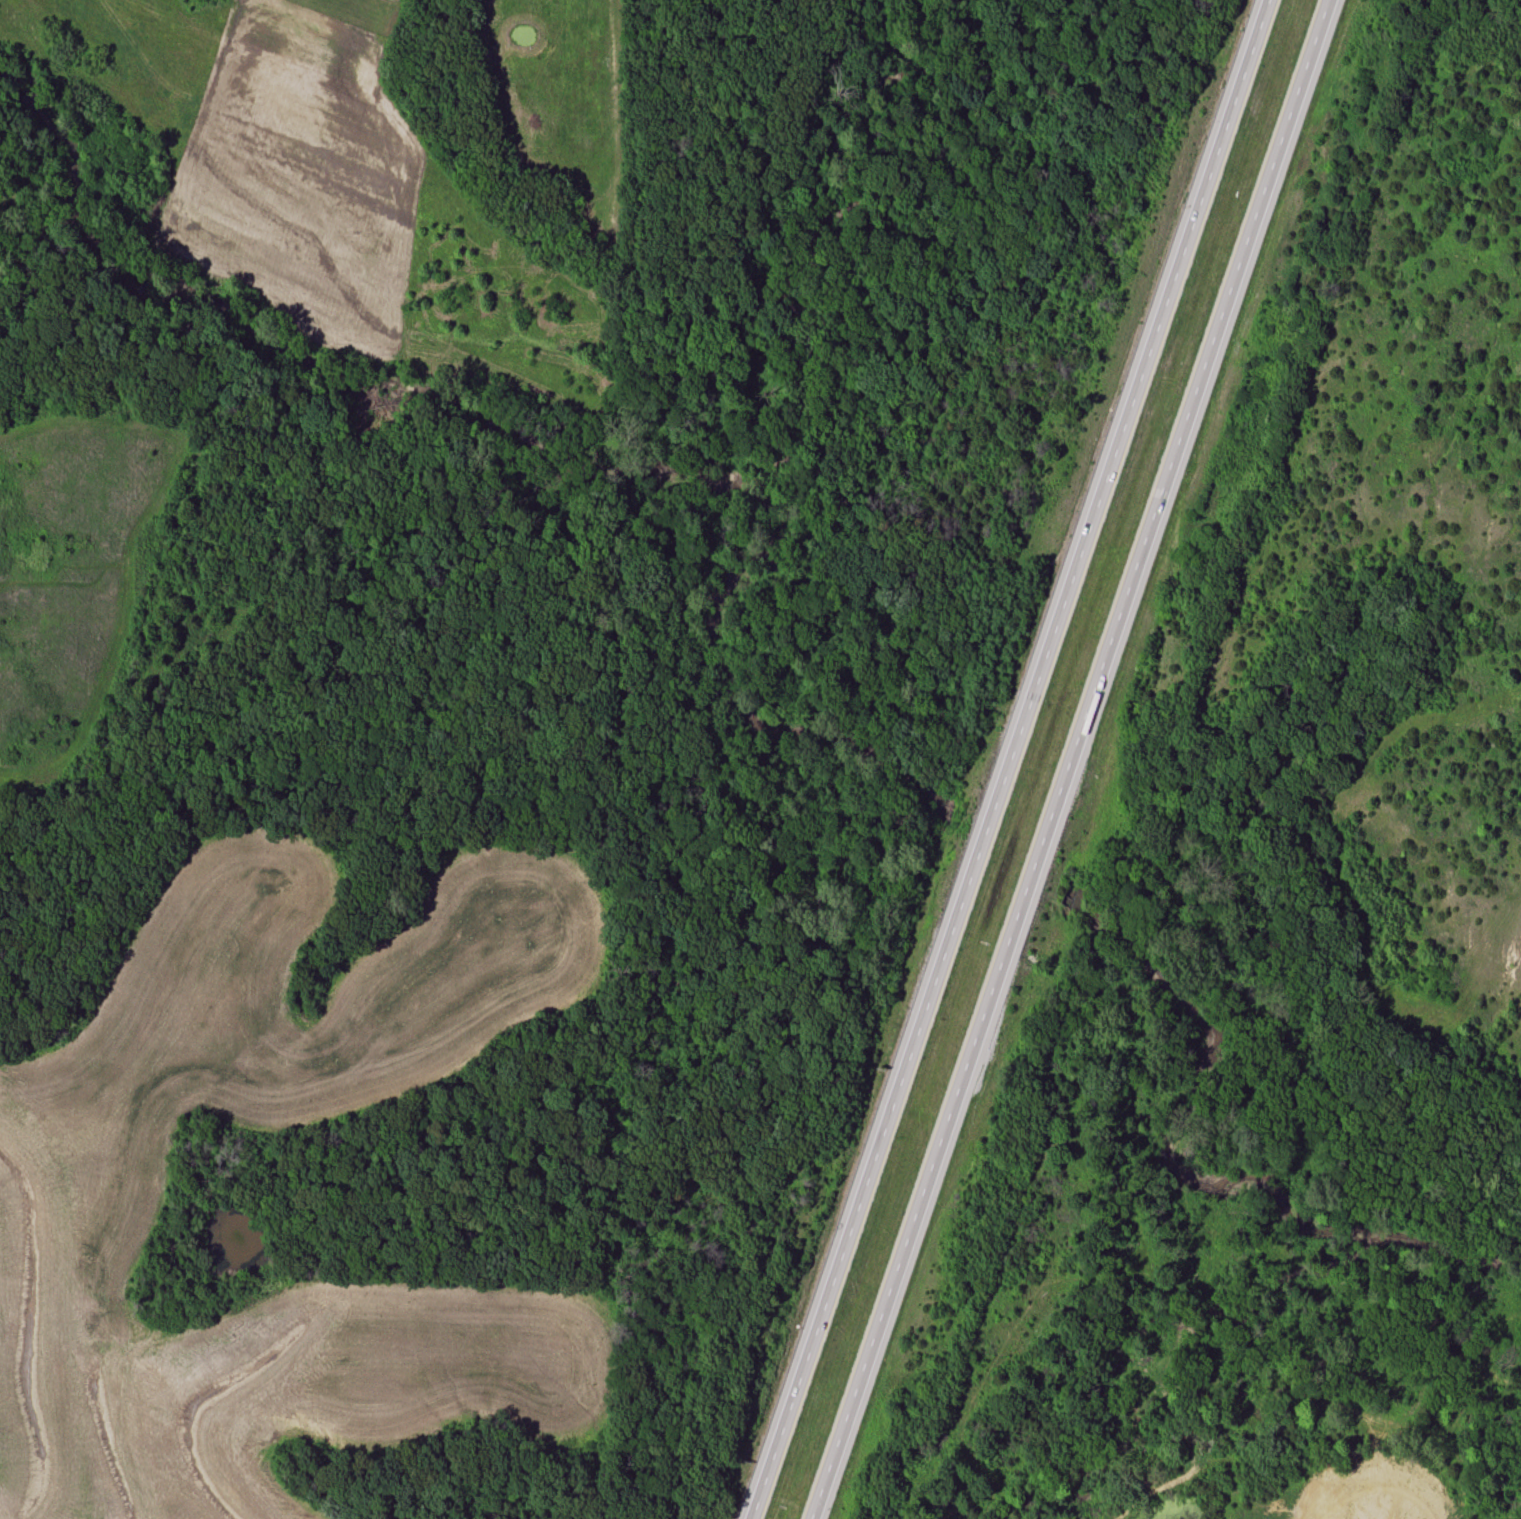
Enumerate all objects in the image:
river: (549, 445)
road: (1007, 759)
road: (1075, 760)
river: (1010, 855)
river: (1213, 1162)

